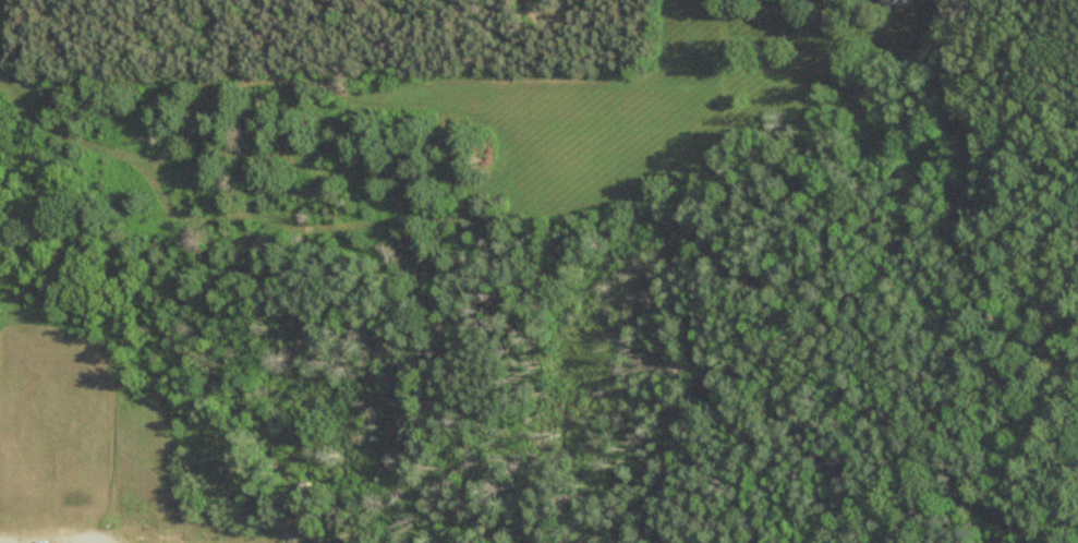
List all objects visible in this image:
building: (882, 2)

